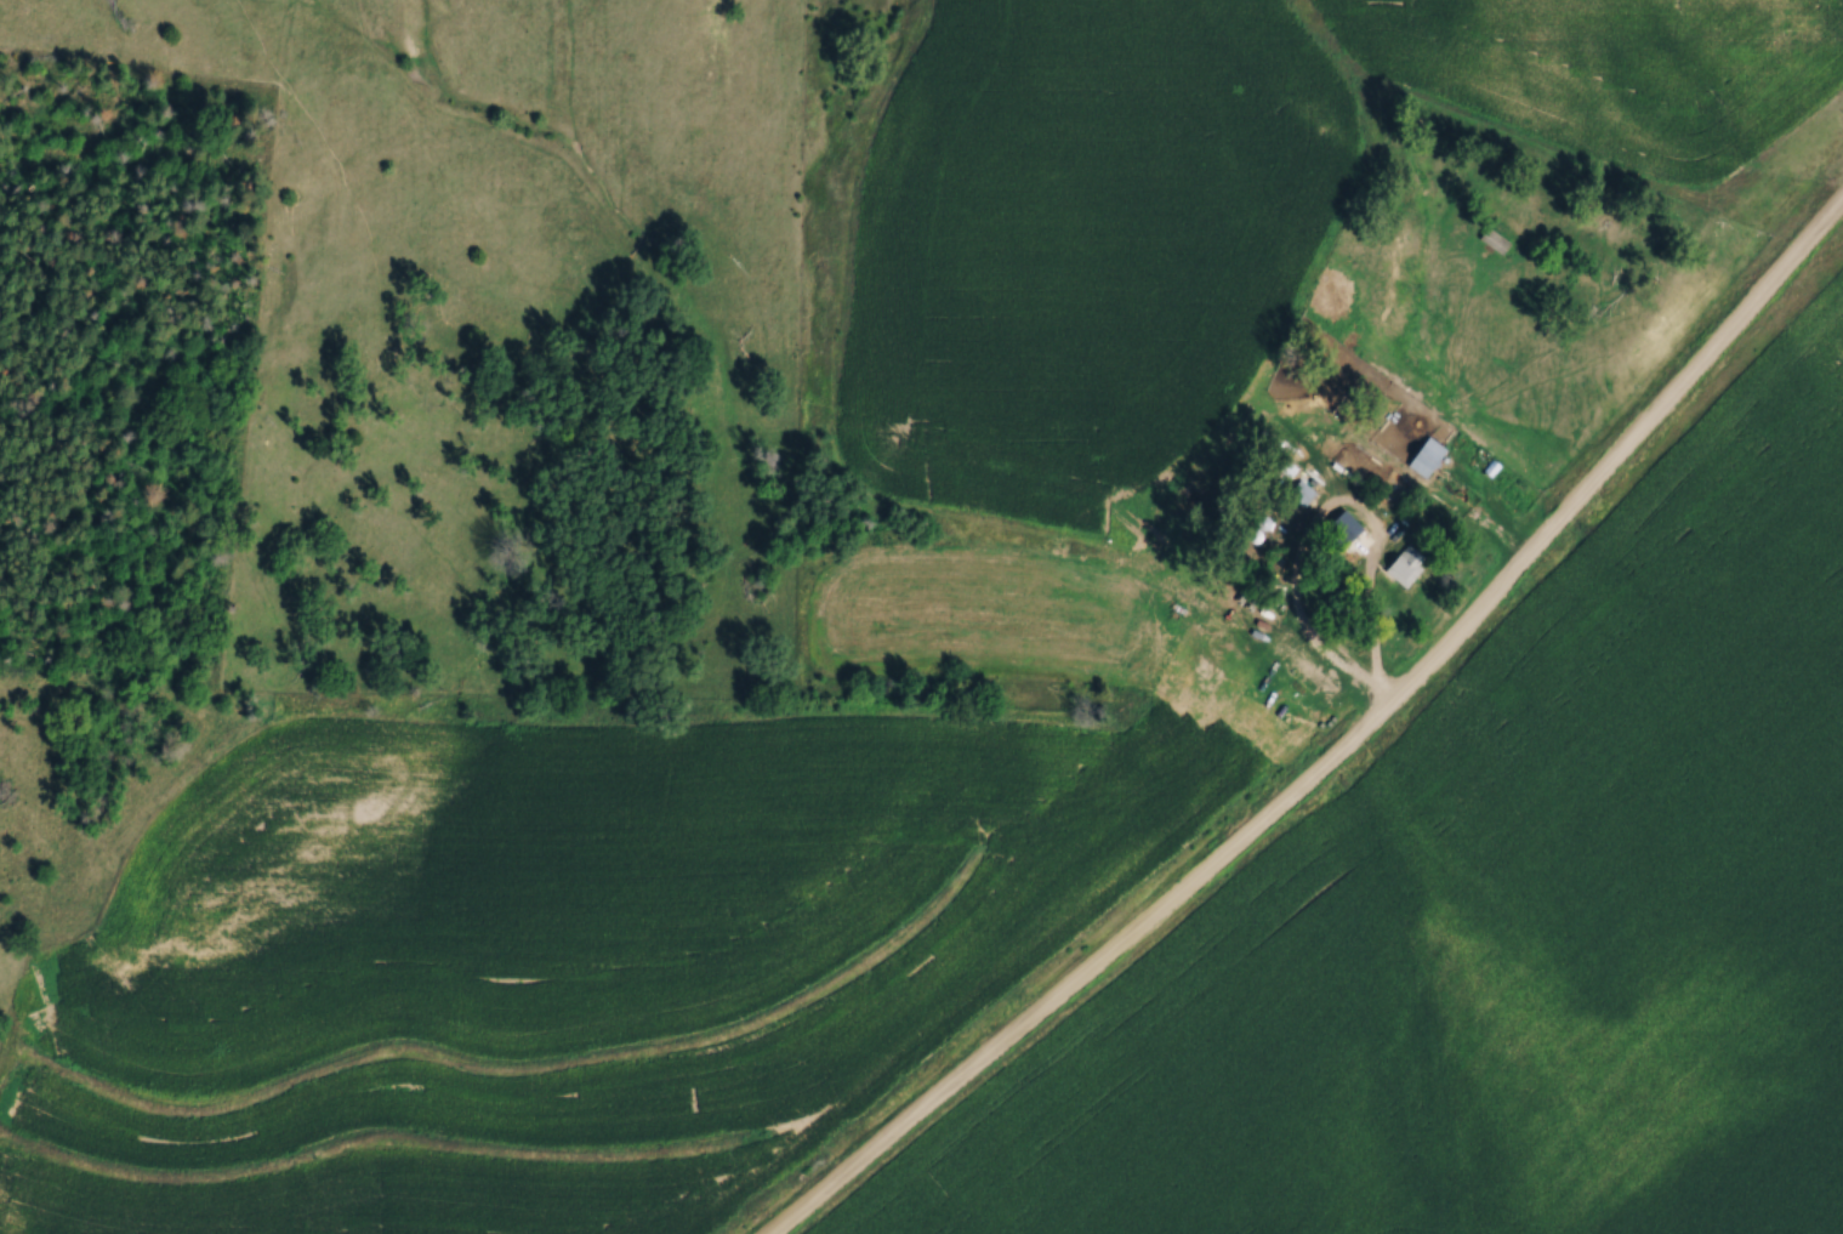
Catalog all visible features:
building: (1491, 238)
building: (1422, 453)
building: (1299, 489)
building: (1401, 563)
road: (1356, 624)
road: (1341, 751)

